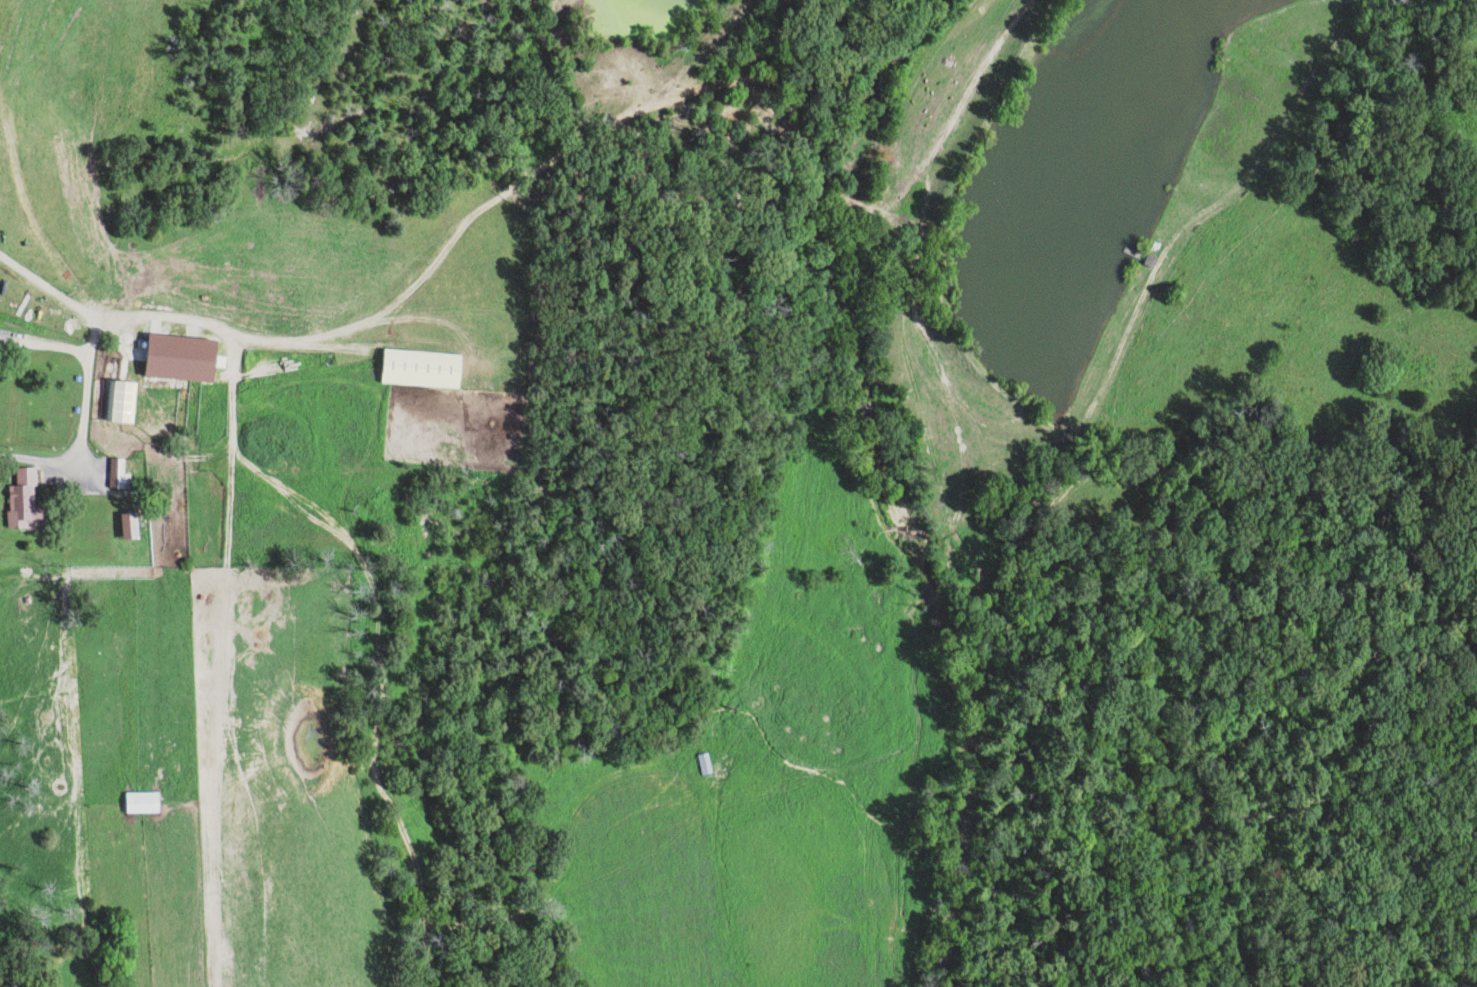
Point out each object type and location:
building: (165, 367)
building: (417, 369)
building: (118, 403)
building: (116, 476)
building: (20, 501)
building: (126, 528)
building: (139, 804)

